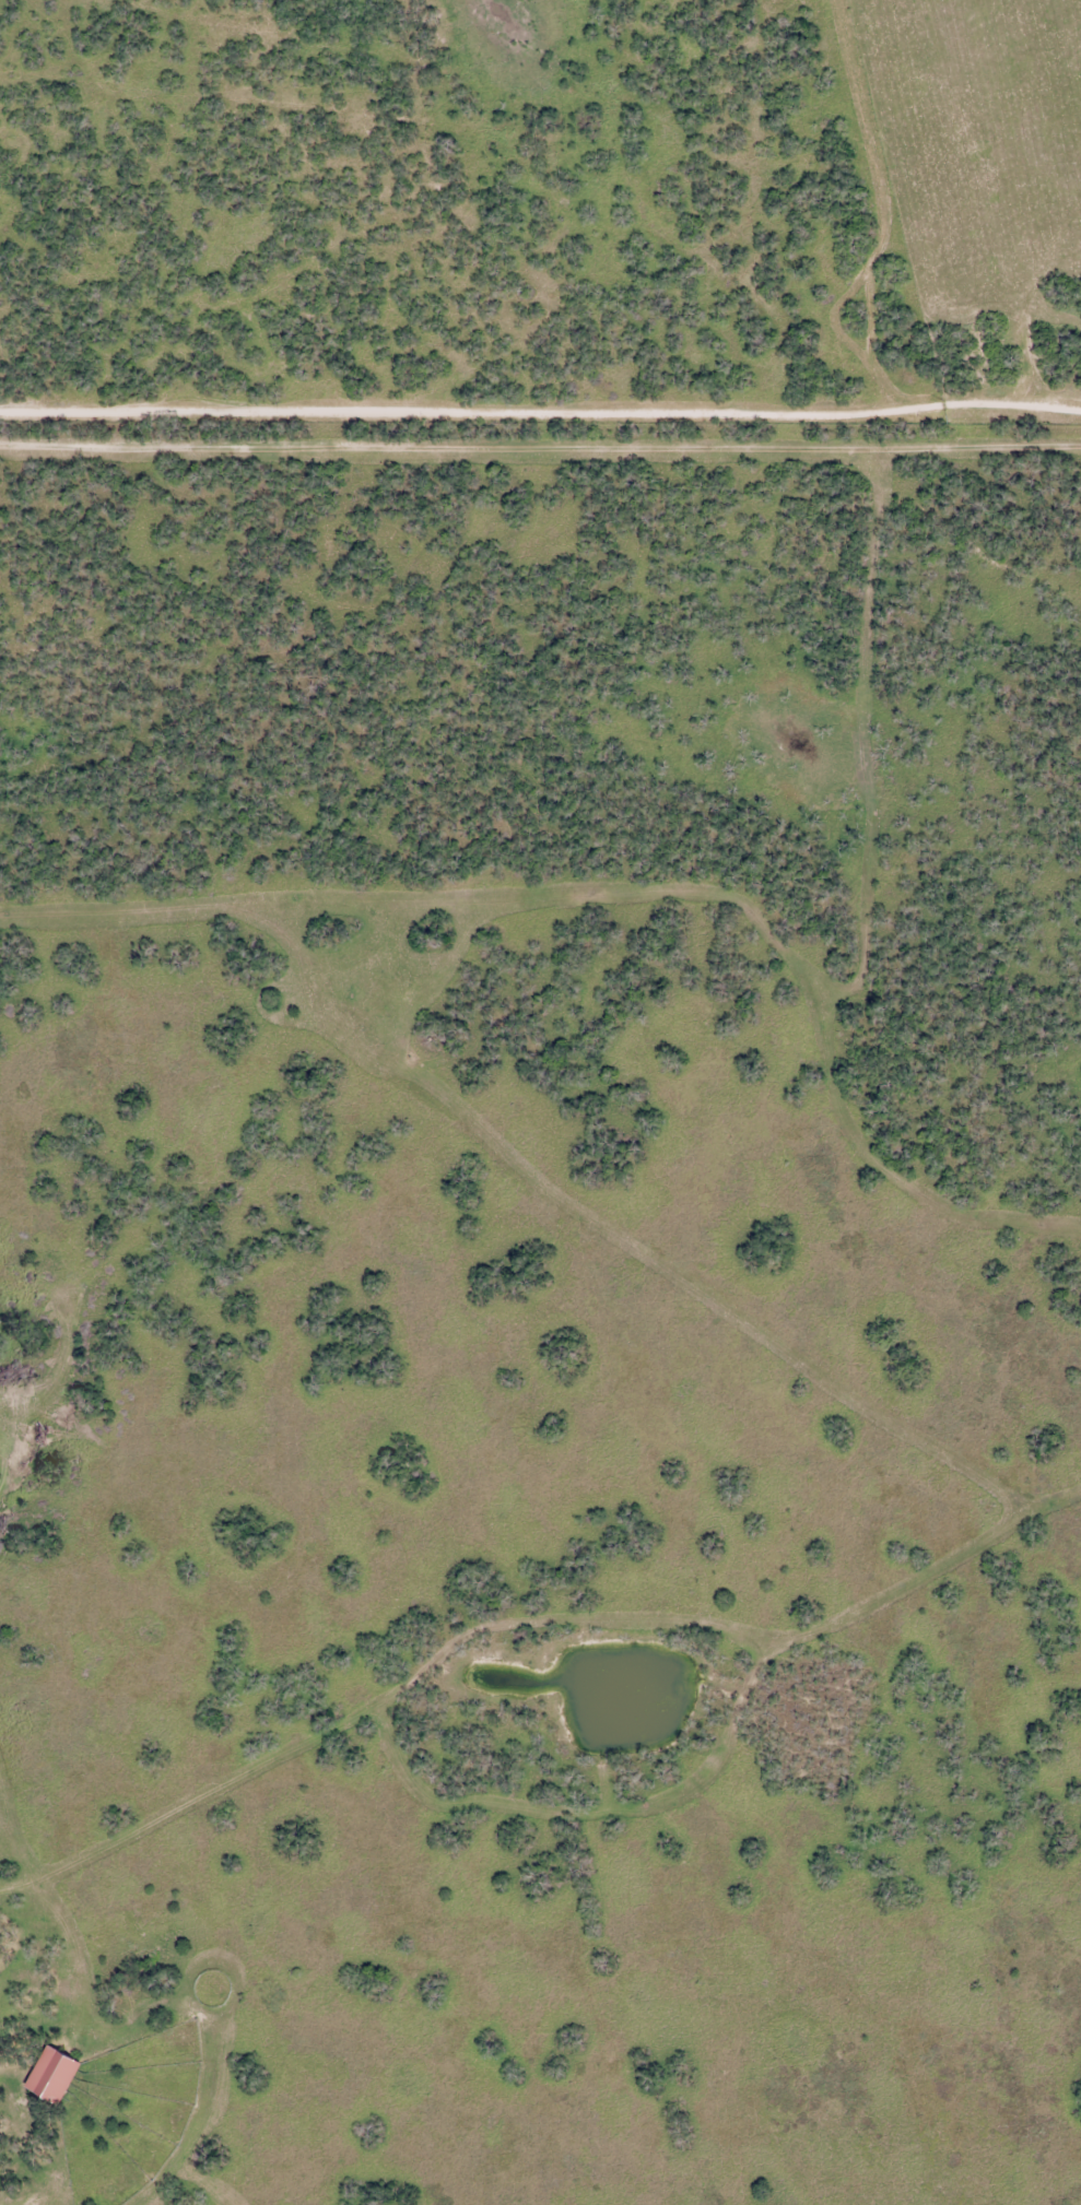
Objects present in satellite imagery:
road: (540, 421)
building: (52, 2074)

